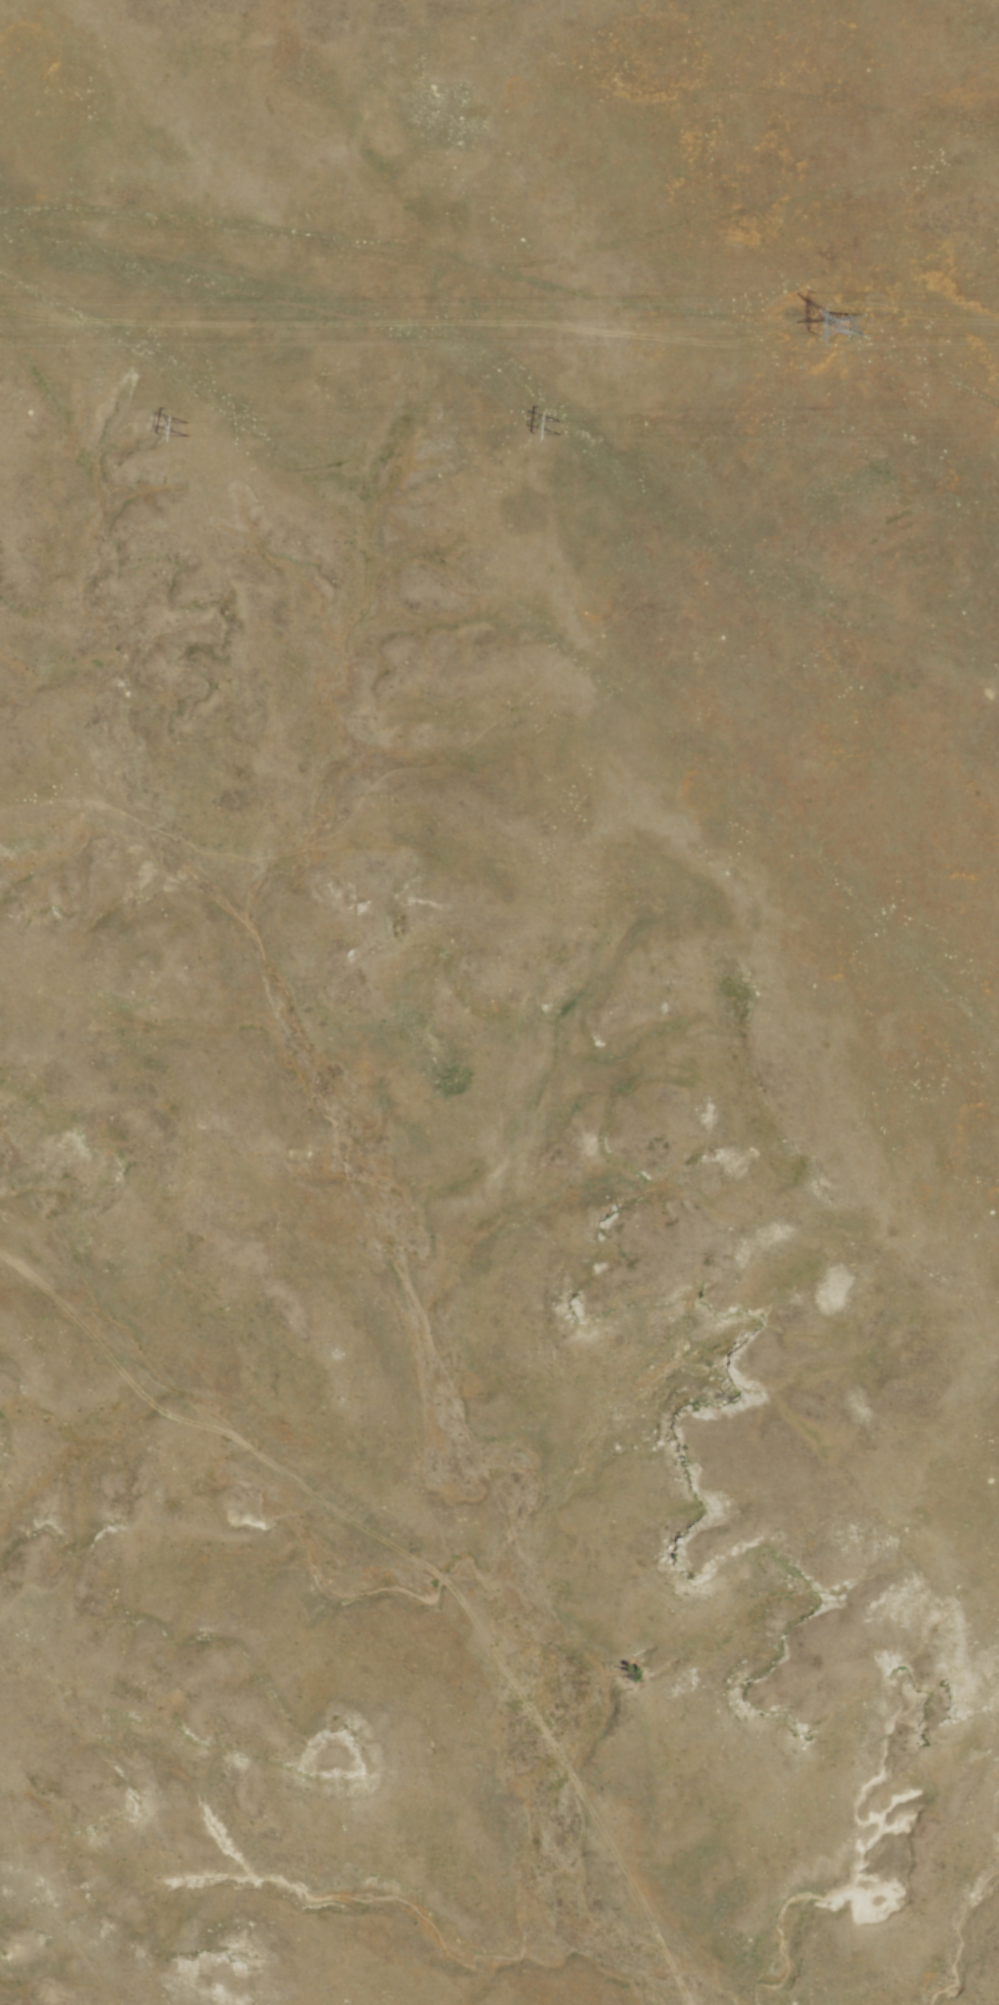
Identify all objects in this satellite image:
power tower: (860, 324)
power tower: (560, 426)
power tower: (188, 428)

